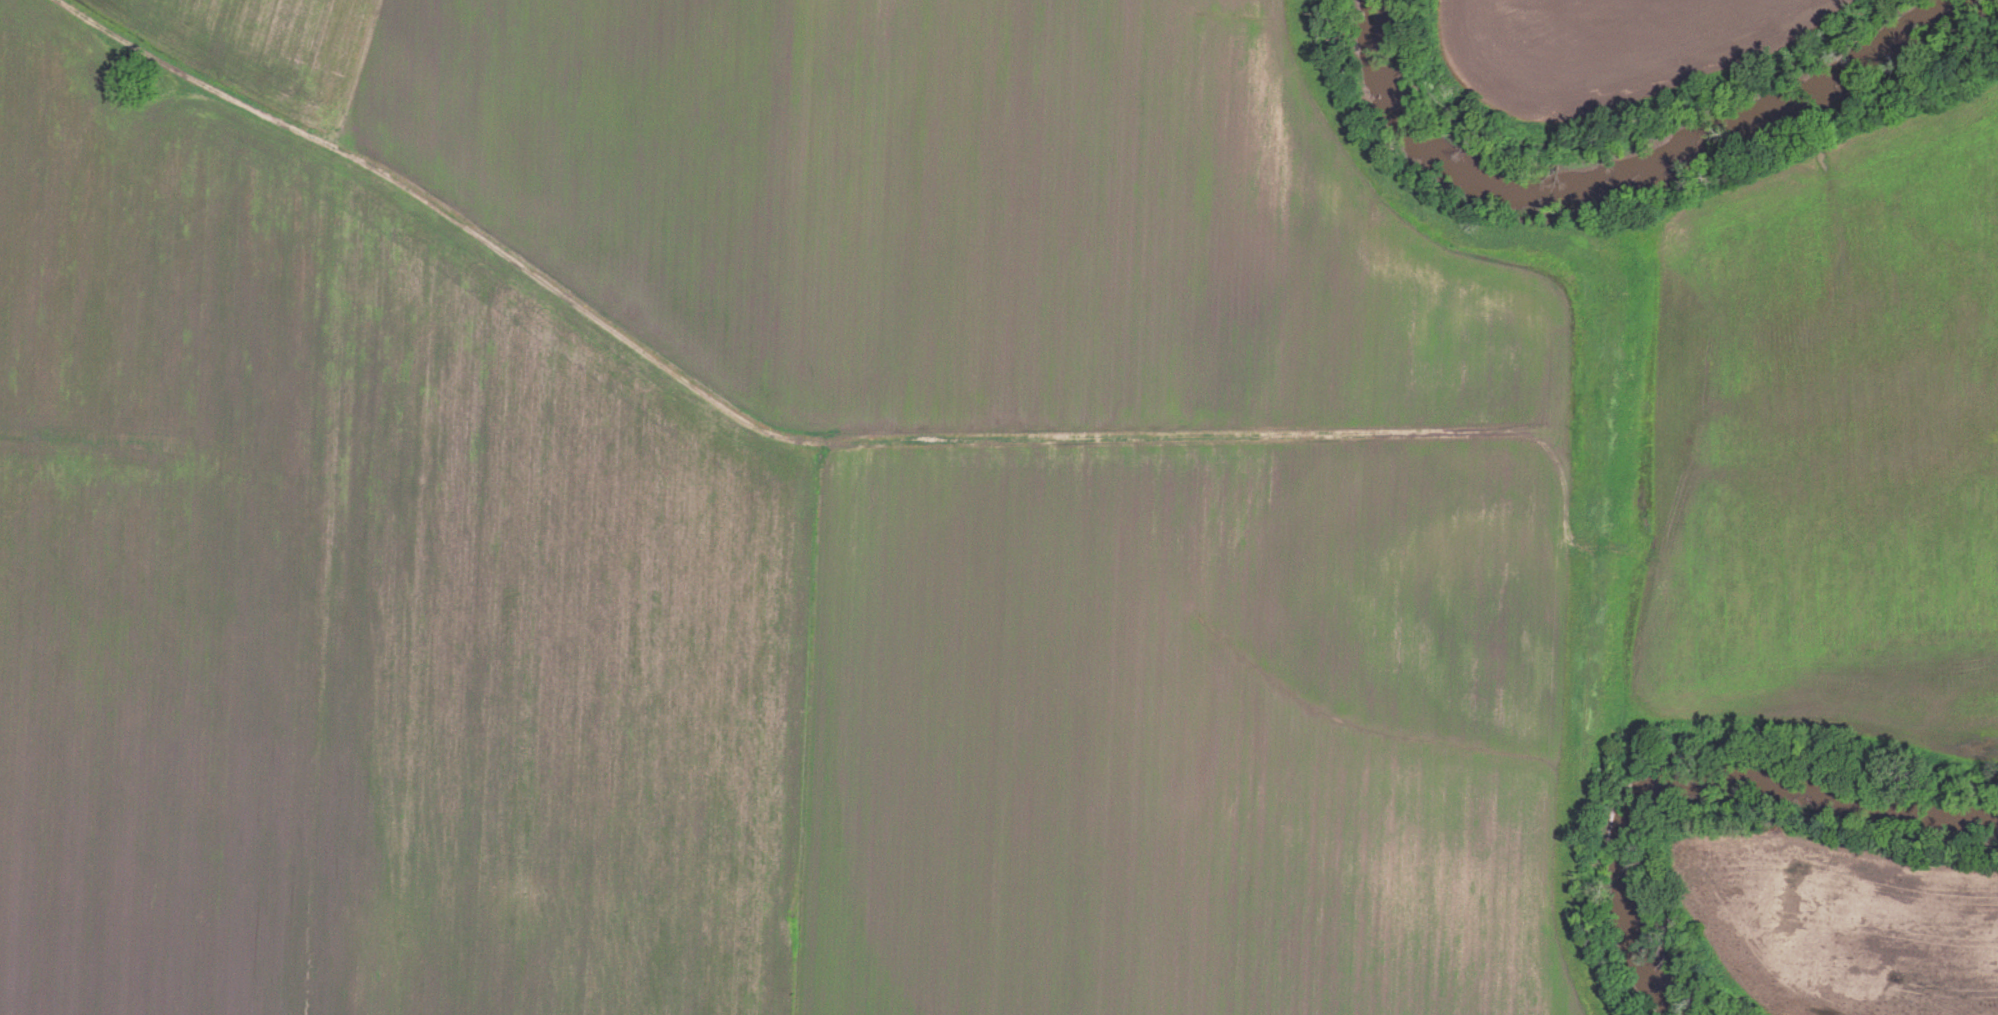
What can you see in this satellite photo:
river: (1695, 780)

